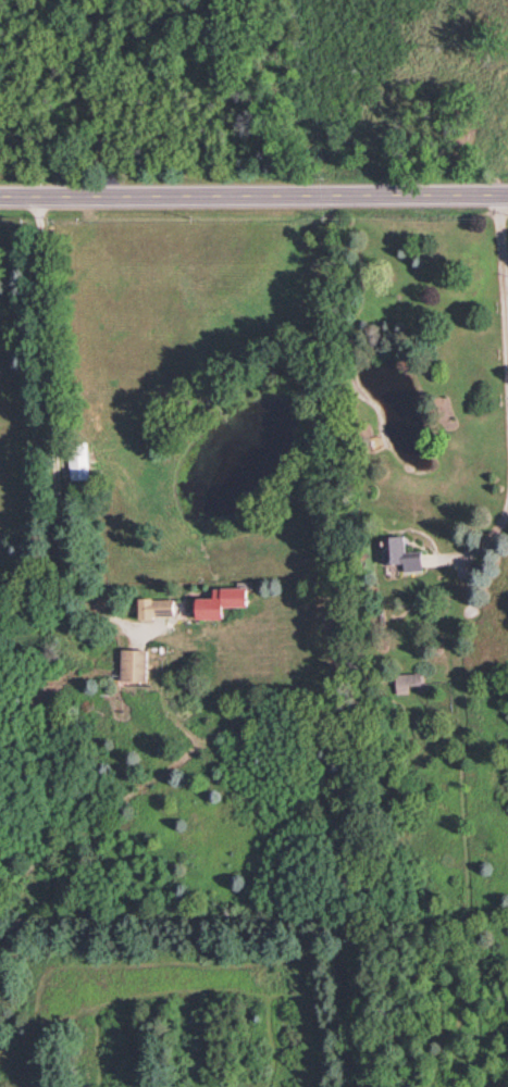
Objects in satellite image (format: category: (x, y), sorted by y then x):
road: (95, 98)
road: (253, 195)
road: (503, 290)
road: (49, 437)
building: (77, 461)
road: (483, 537)
building: (399, 552)
building: (220, 601)
building: (153, 607)
building: (133, 664)
building: (406, 679)

